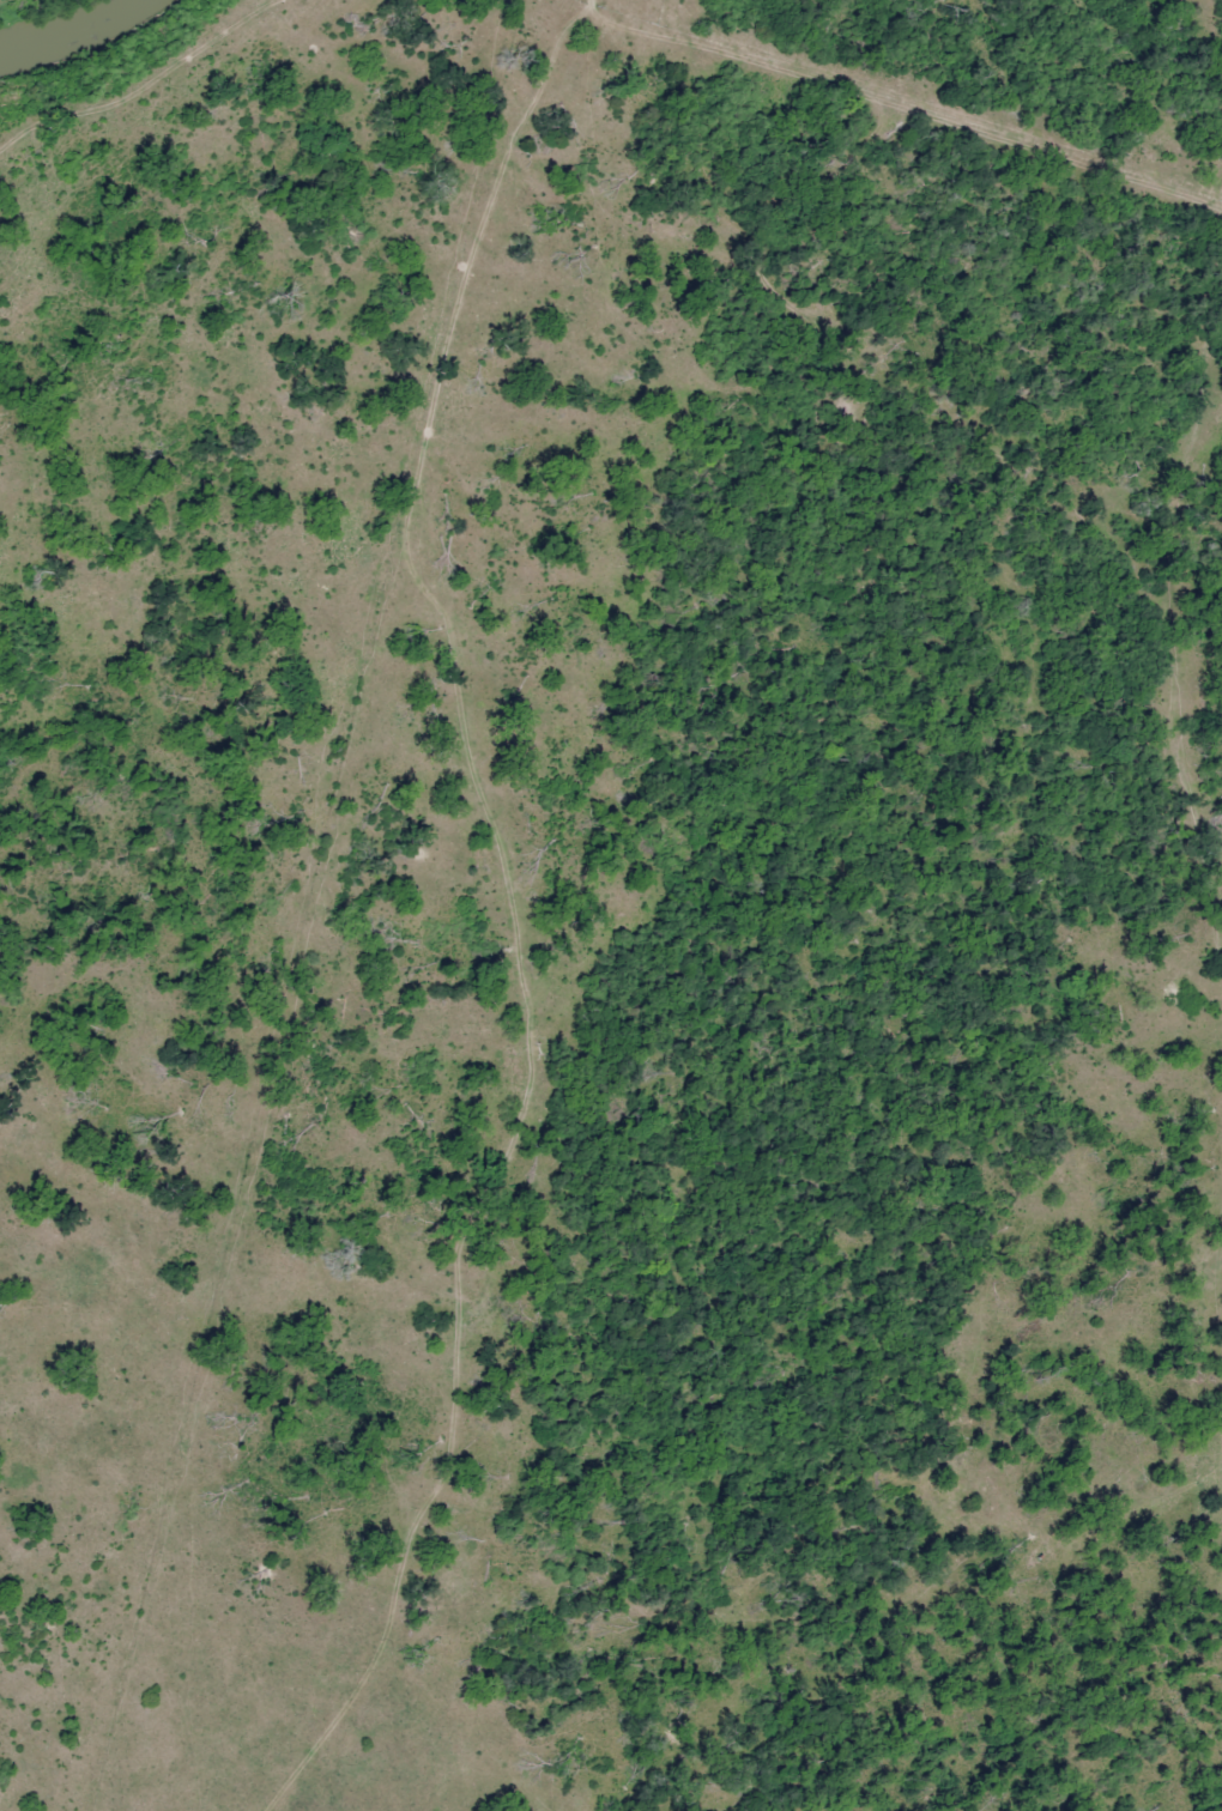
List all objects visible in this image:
river: (47, 16)
road: (527, 905)

